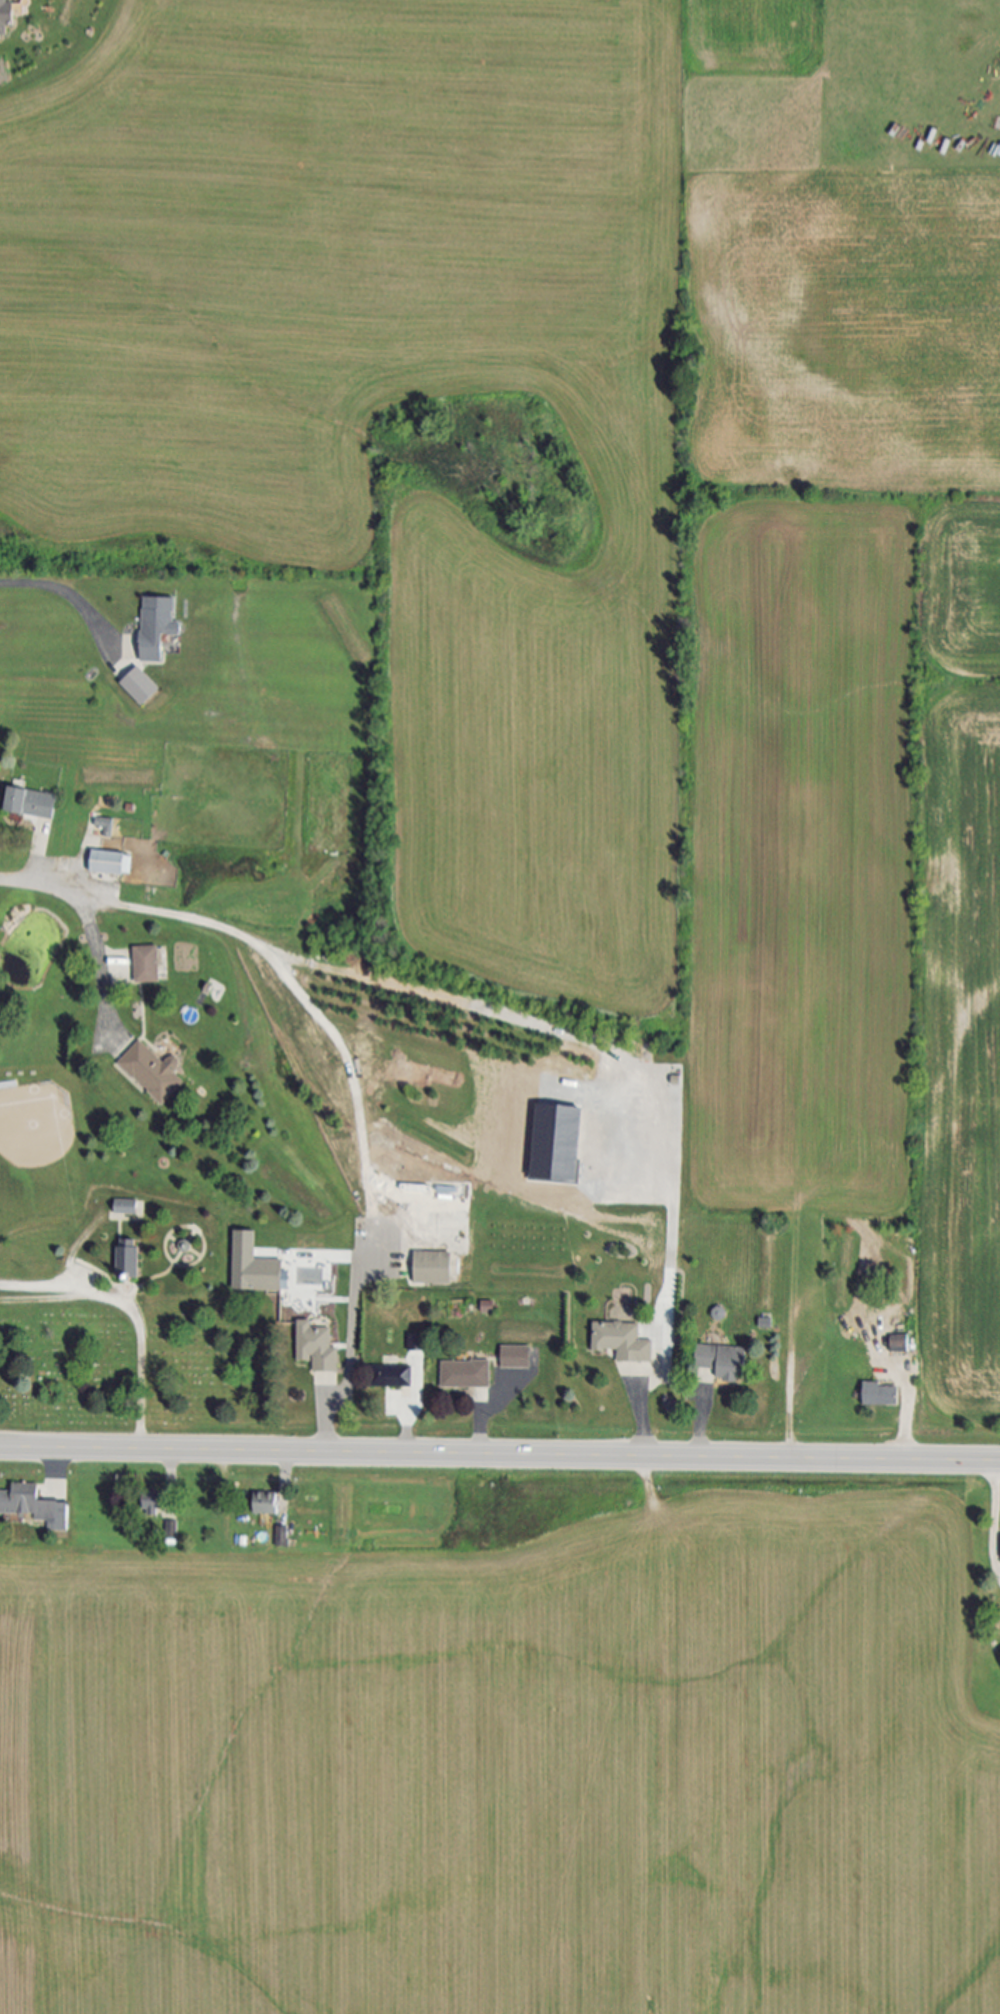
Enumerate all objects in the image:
building: (7, 18)
road: (67, 593)
building: (158, 628)
building: (143, 685)
building: (32, 803)
building: (107, 825)
building: (111, 864)
road: (90, 928)
building: (147, 965)
road: (312, 1009)
building: (153, 1072)
park: (40, 1083)
building: (561, 1143)
building: (128, 1208)
building: (129, 1261)
building: (256, 1268)
building: (433, 1268)
road: (134, 1310)
park: (131, 1329)
building: (622, 1342)
building: (899, 1344)
building: (317, 1347)
building: (516, 1358)
road: (350, 1362)
building: (722, 1364)
building: (466, 1375)
building: (392, 1377)
building: (881, 1394)
road: (484, 1418)
road: (906, 1419)
road: (642, 1422)
road: (702, 1428)
road: (406, 1433)
road: (499, 1455)
road: (287, 1472)
road: (171, 1477)
building: (268, 1504)
building: (32, 1506)
building: (161, 1508)
road: (993, 1517)
building: (172, 1529)
building: (283, 1536)

